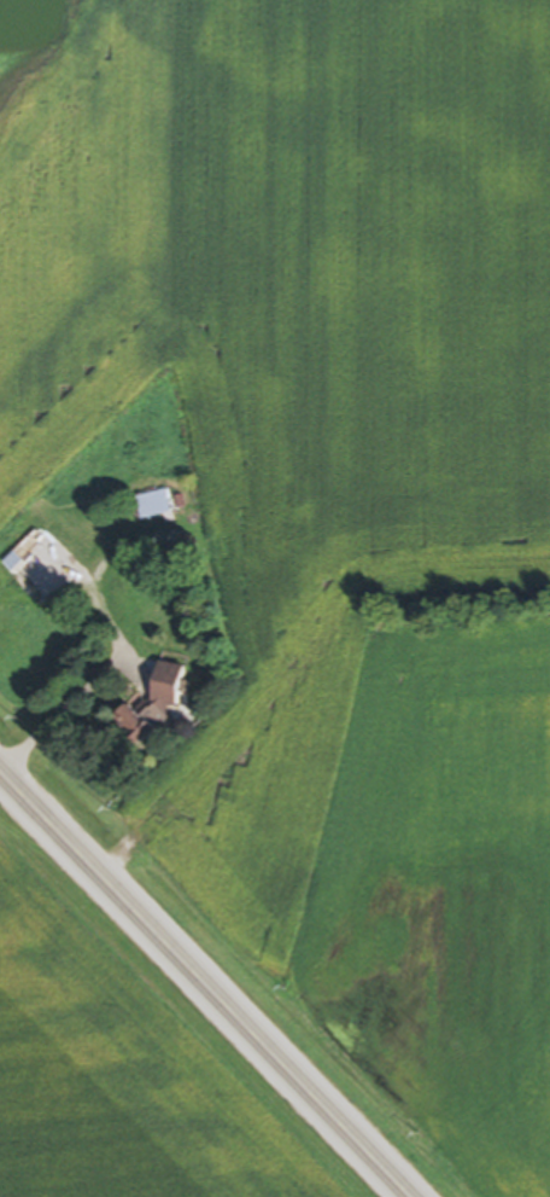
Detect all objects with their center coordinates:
building: (157, 506)
building: (69, 552)
building: (158, 705)
road: (59, 715)
road: (204, 983)

